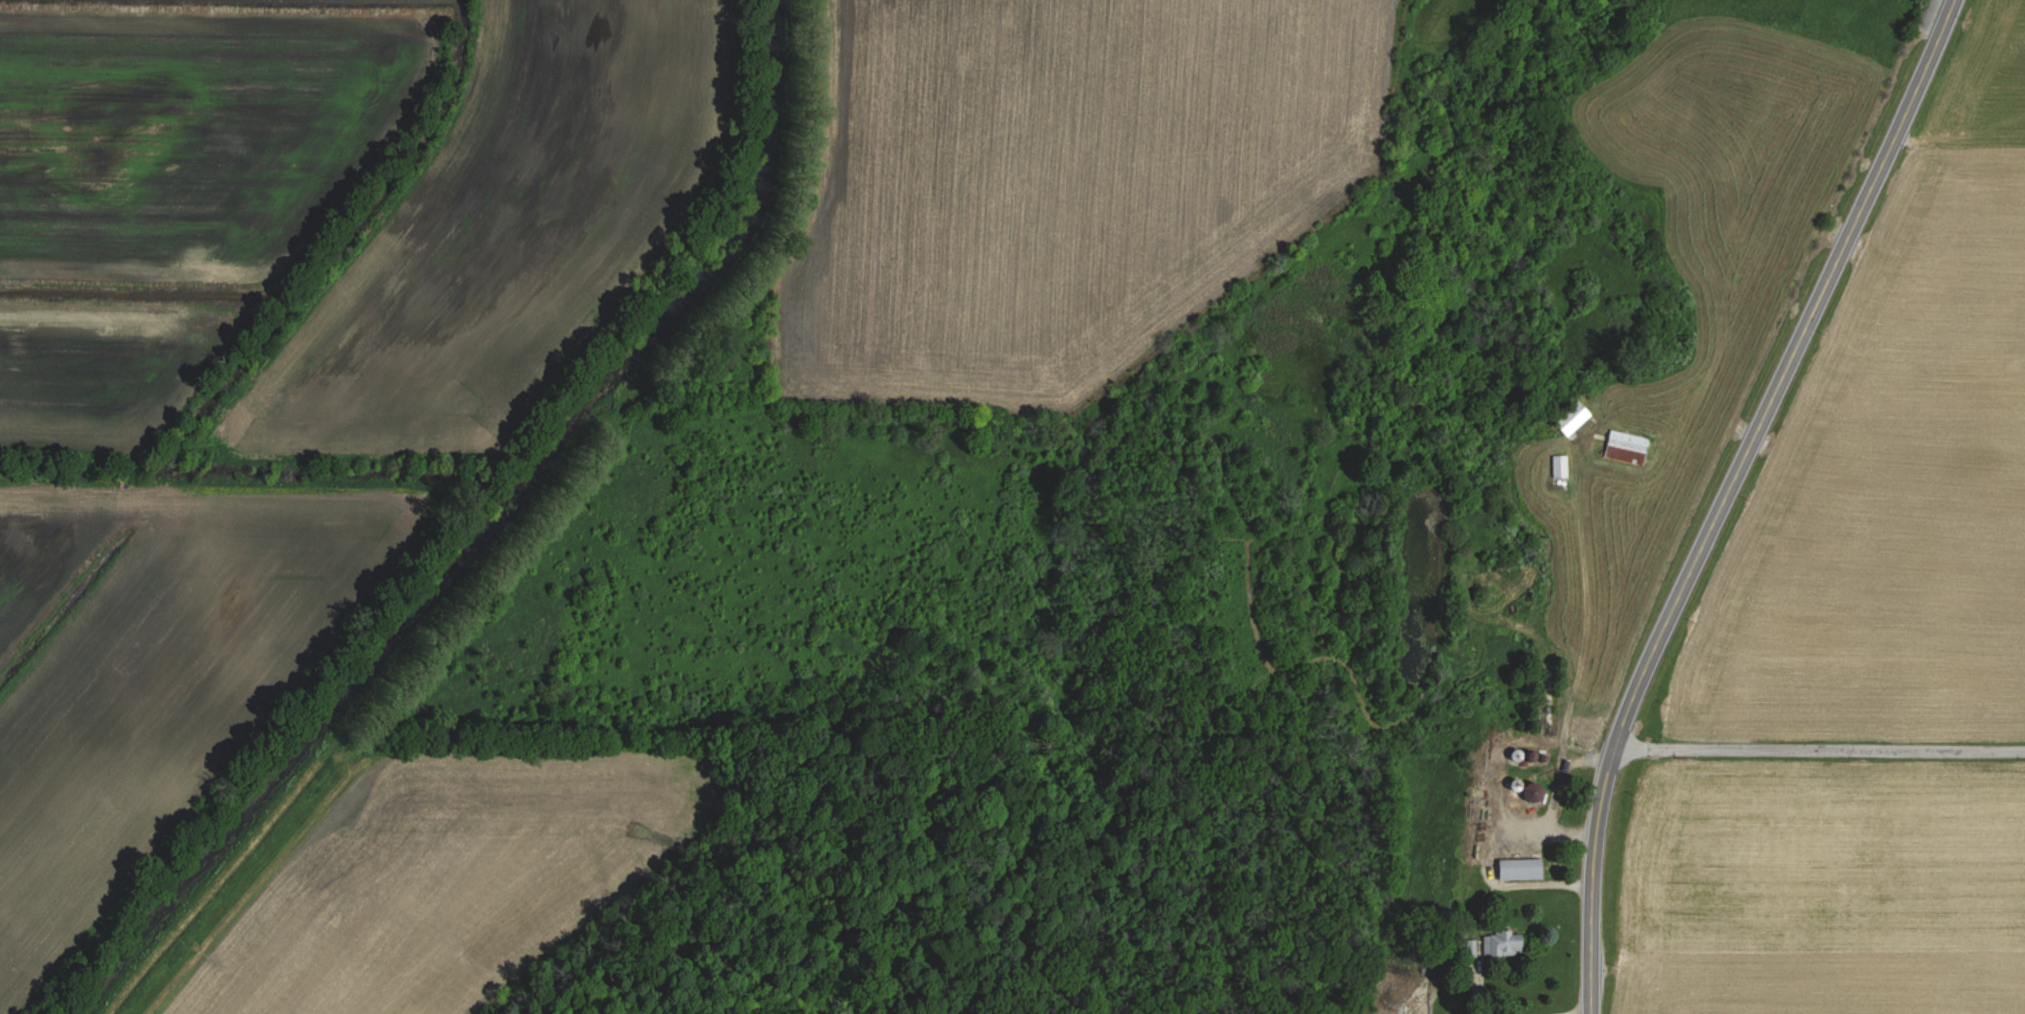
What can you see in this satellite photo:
building: (1569, 420)
building: (1623, 448)
building: (1557, 467)
road: (1726, 495)
road: (1818, 750)
building: (1515, 869)
building: (1491, 944)
road: (1554, 1009)

